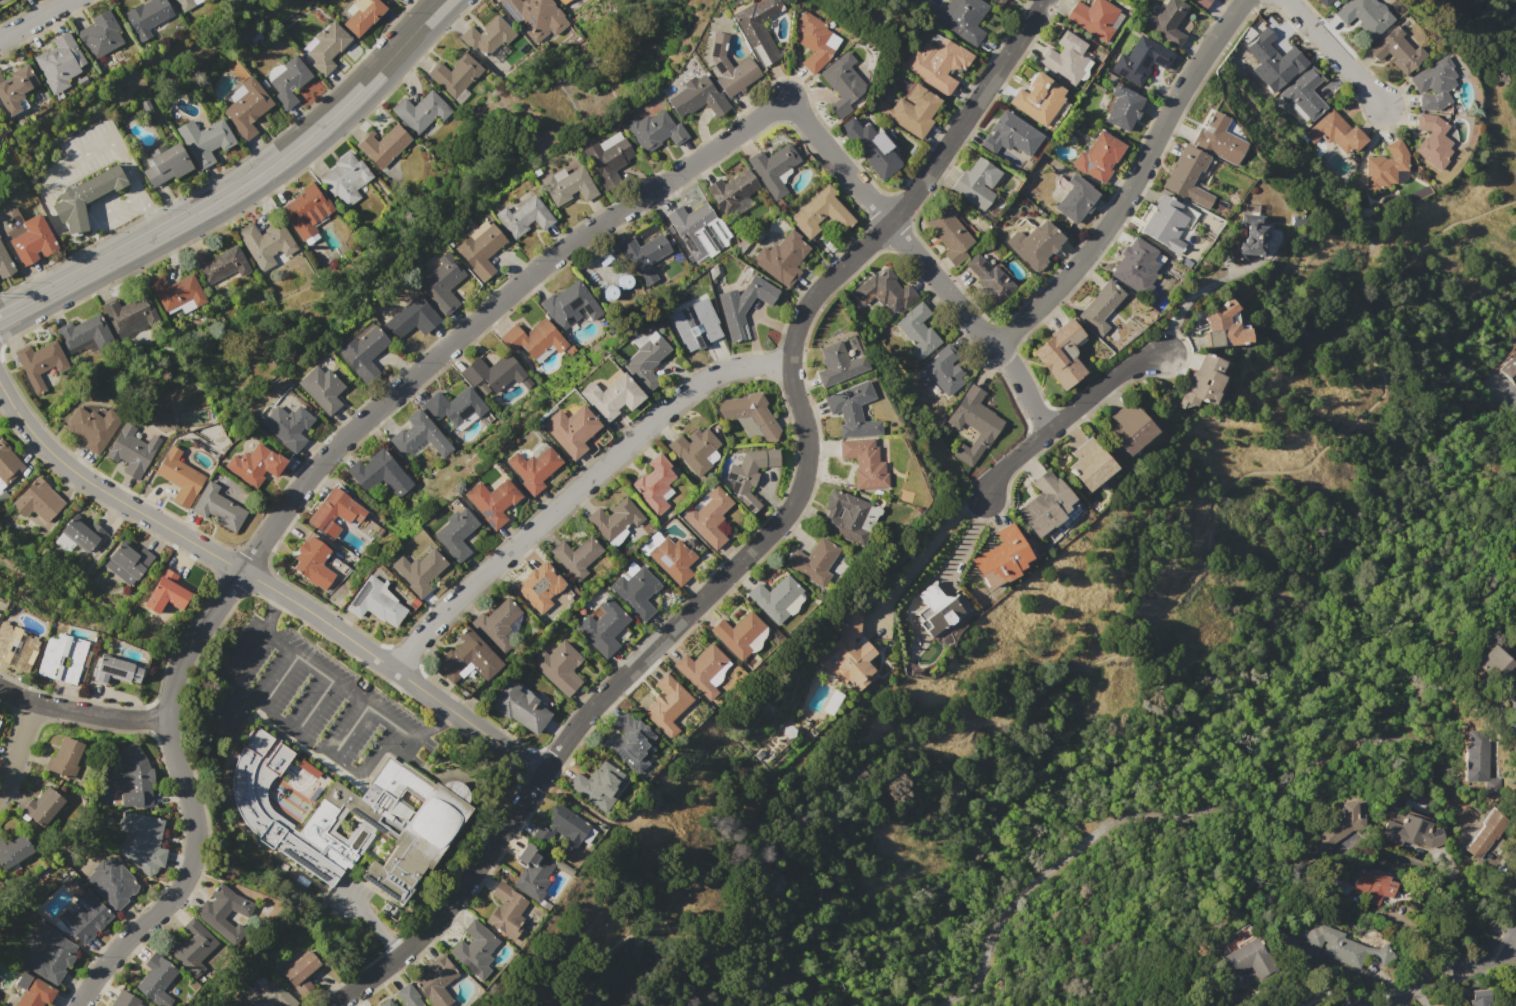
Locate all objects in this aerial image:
building: (392, 0)
building: (393, 0)
building: (562, 1)
building: (1002, 1)
building: (1323, 2)
building: (1201, 3)
building: (185, 4)
building: (362, 15)
building: (147, 16)
building: (1365, 16)
building: (1095, 18)
road: (34, 19)
building: (535, 19)
building: (963, 20)
building: (1166, 22)
building: (757, 29)
building: (100, 34)
building: (486, 35)
building: (814, 41)
building: (327, 47)
building: (1397, 51)
road: (1333, 53)
building: (1273, 57)
building: (1067, 59)
building: (1141, 60)
building: (59, 62)
building: (938, 63)
building: (730, 68)
building: (455, 75)
building: (289, 82)
building: (842, 84)
building: (1434, 84)
building: (15, 89)
building: (1305, 93)
building: (697, 97)
building: (1041, 102)
building: (1123, 107)
building: (246, 109)
building: (911, 110)
building: (422, 111)
building: (654, 130)
building: (1336, 133)
building: (1012, 137)
building: (1218, 139)
building: (204, 140)
building: (1432, 140)
building: (869, 145)
building: (383, 146)
building: (1098, 157)
building: (608, 158)
building: (165, 164)
road: (123, 166)
building: (1385, 166)
building: (773, 168)
building: (1187, 176)
building: (346, 179)
building: (977, 183)
building: (568, 185)
road: (1132, 185)
road: (242, 186)
building: (733, 193)
building: (83, 197)
road: (42, 199)
building: (1075, 199)
building: (307, 210)
road: (148, 212)
building: (820, 212)
building: (523, 216)
road: (882, 216)
road: (74, 224)
building: (1164, 224)
building: (700, 231)
building: (950, 236)
building: (1250, 237)
building: (32, 240)
building: (266, 241)
building: (1035, 244)
building: (480, 249)
building: (644, 256)
building: (782, 259)
building: (5, 264)
building: (220, 264)
building: (1135, 267)
building: (990, 279)
building: (442, 283)
building: (176, 291)
building: (884, 291)
road: (1193, 294)
building: (569, 305)
building: (743, 305)
building: (1100, 307)
building: (129, 312)
building: (411, 318)
building: (696, 325)
building: (1224, 327)
building: (917, 330)
building: (85, 333)
building: (534, 338)
road: (991, 345)
building: (364, 351)
building: (1061, 354)
building: (646, 358)
building: (840, 361)
building: (40, 362)
building: (1509, 370)
building: (942, 371)
building: (493, 372)
building: (1203, 381)
building: (322, 389)
road: (1505, 394)
road: (1026, 395)
building: (611, 397)
building: (453, 406)
building: (852, 410)
road: (1068, 415)
building: (750, 416)
building: (973, 424)
building: (288, 425)
building: (92, 427)
building: (1131, 427)
building: (570, 430)
building: (419, 435)
building: (132, 450)
building: (694, 450)
building: (864, 462)
building: (8, 464)
building: (255, 464)
building: (1090, 464)
building: (533, 467)
building: (379, 473)
building: (750, 475)
building: (179, 477)
road: (305, 479)
building: (655, 485)
road: (576, 490)
building: (37, 501)
building: (493, 501)
building: (1046, 505)
building: (218, 508)
building: (334, 512)
building: (848, 516)
building: (709, 517)
building: (614, 519)
road: (1137, 524)
building: (367, 528)
building: (81, 532)
building: (456, 533)
road: (764, 538)
road: (967, 538)
road: (933, 542)
building: (576, 556)
building: (668, 556)
building: (1002, 557)
building: (127, 562)
building: (312, 562)
building: (814, 562)
building: (419, 571)
road: (265, 585)
building: (540, 585)
building: (635, 590)
building: (166, 592)
building: (777, 599)
building: (375, 603)
road: (273, 606)
building: (937, 608)
building: (1514, 619)
building: (1515, 624)
building: (496, 625)
building: (602, 627)
road: (1138, 631)
building: (740, 635)
building: (18, 647)
building: (848, 655)
building: (63, 658)
building: (466, 658)
building: (1494, 661)
building: (559, 667)
building: (116, 669)
building: (703, 670)
park: (1129, 672)
road: (279, 677)
road: (339, 682)
road: (314, 702)
building: (666, 705)
building: (518, 706)
road: (229, 707)
road: (82, 709)
road: (439, 717)
road: (350, 727)
road: (305, 734)
building: (633, 742)
road: (923, 742)
road: (18, 744)
building: (65, 758)
building: (1478, 758)
building: (134, 778)
building: (597, 785)
building: (46, 808)
building: (352, 819)
building: (565, 829)
building: (1413, 833)
building: (1485, 833)
building: (143, 842)
building: (17, 848)
road: (1401, 856)
building: (82, 866)
road: (1049, 868)
building: (535, 873)
building: (111, 883)
building: (1338, 885)
building: (1373, 885)
road: (1480, 898)
building: (506, 911)
building: (219, 912)
building: (85, 917)
building: (1344, 947)
building: (193, 948)
building: (475, 949)
building: (49, 954)
building: (1249, 959)
building: (301, 969)
road: (1449, 970)
building: (435, 981)
building: (165, 982)
building: (1515, 988)
building: (32, 991)
building: (264, 996)
building: (409, 996)
building: (1478, 998)
building: (125, 999)
building: (1515, 1002)
building: (385, 1003)
road: (1315, 1003)
building: (1515, 1005)

